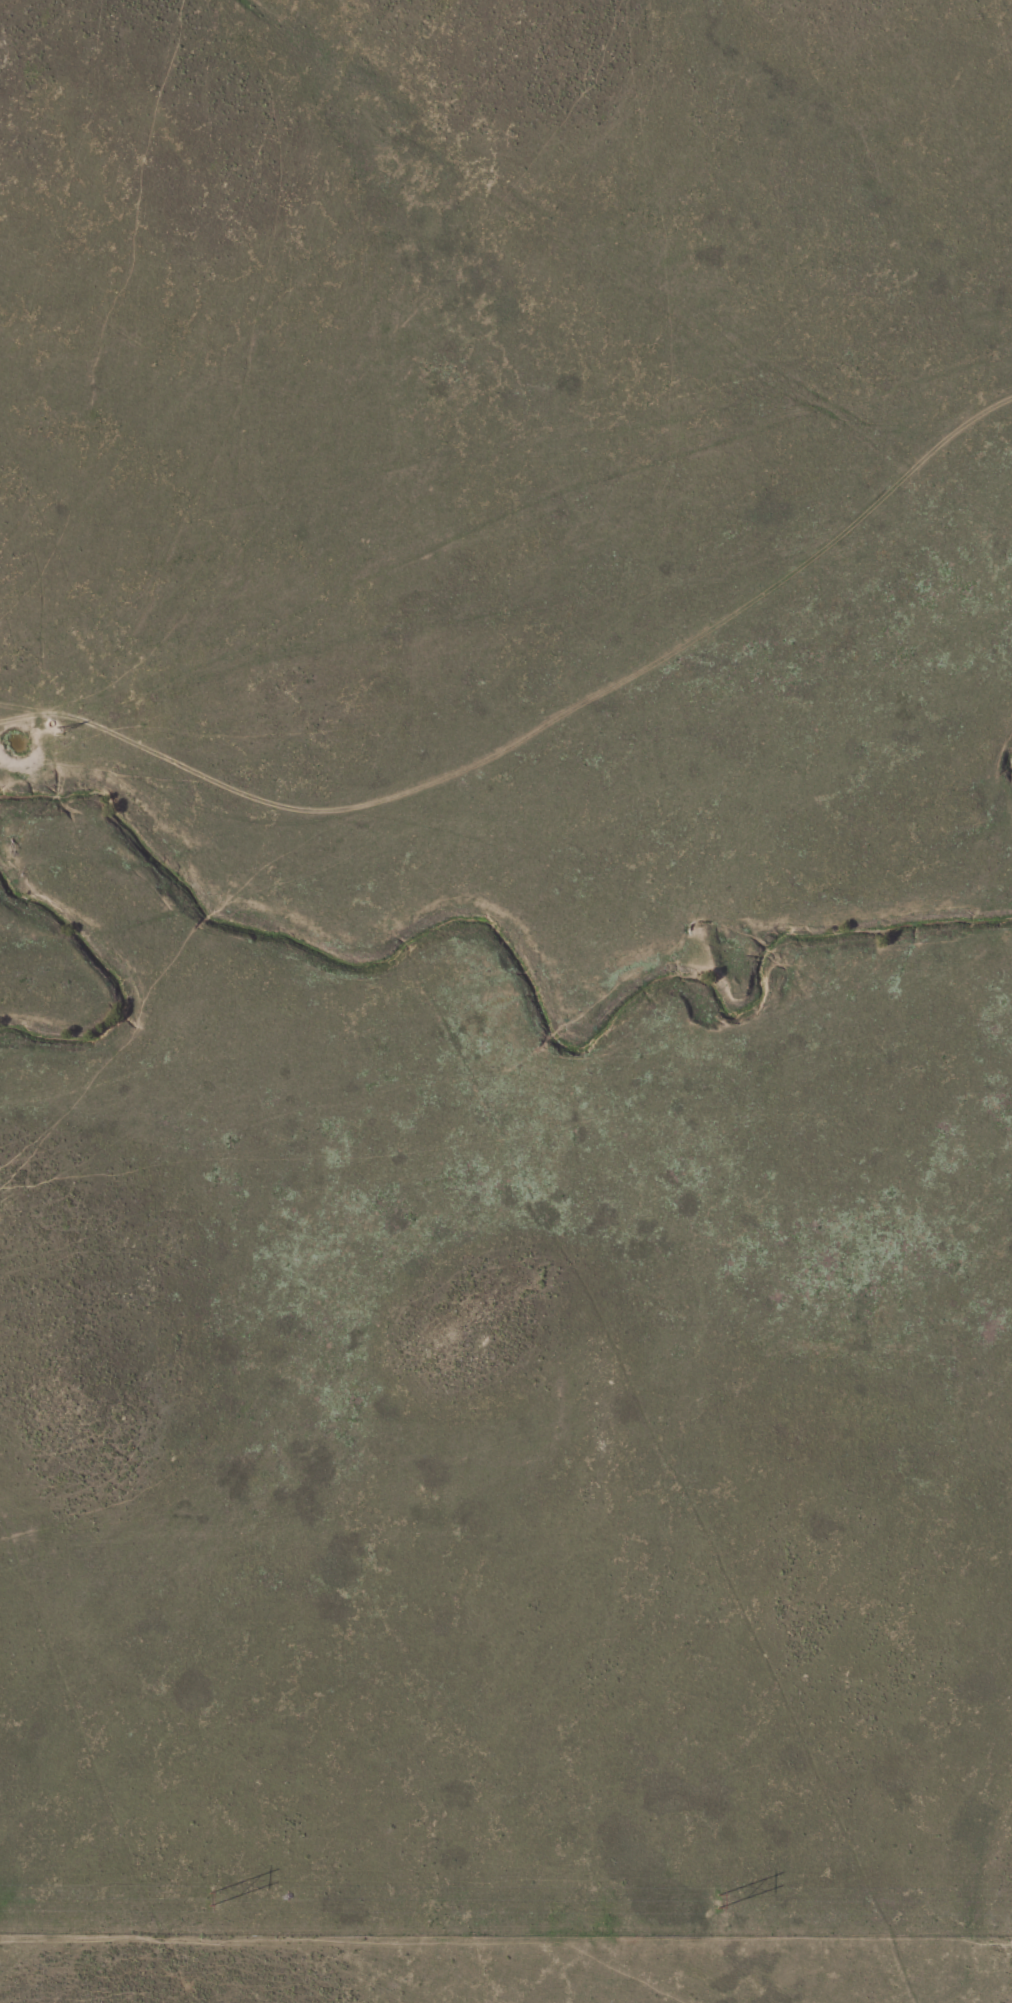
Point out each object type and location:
power tower: (205, 1898)
power tower: (719, 1902)

